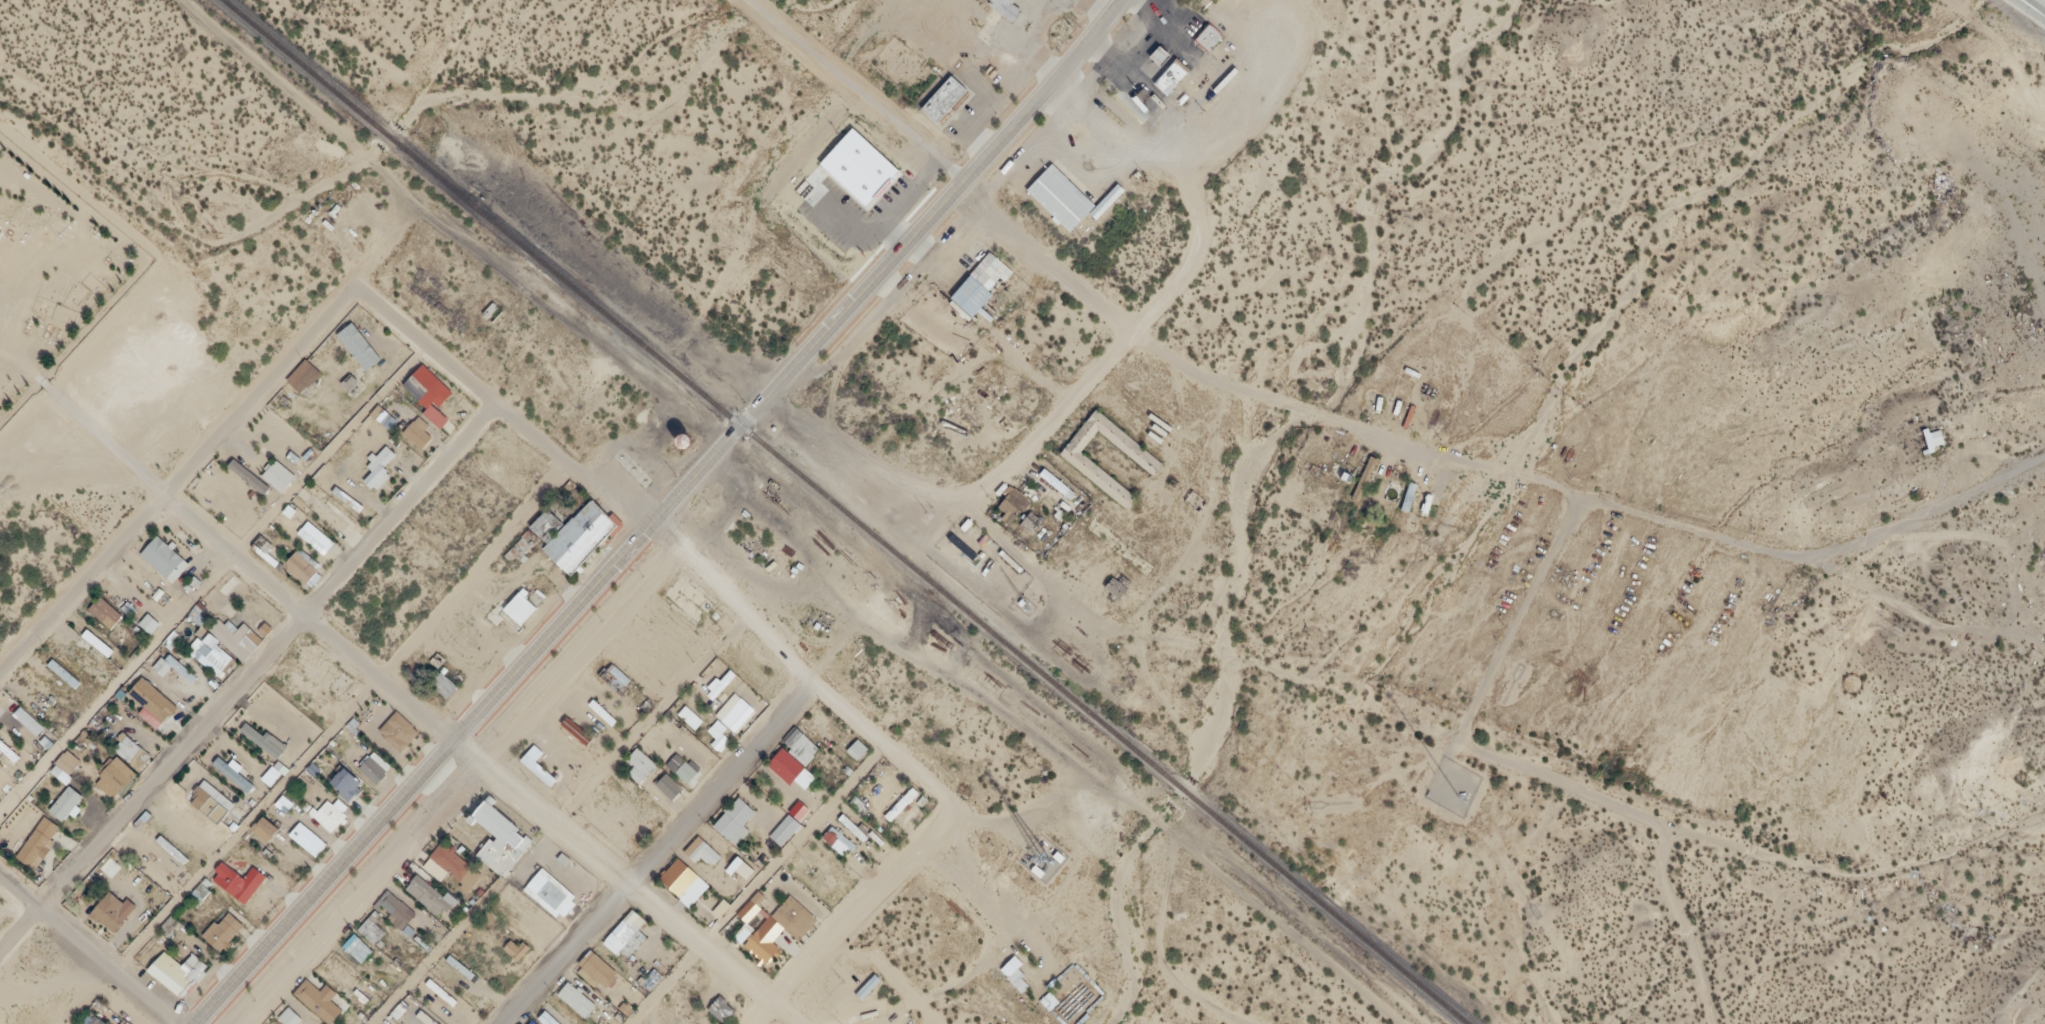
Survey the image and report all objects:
road: (2038, 4)
building: (998, 12)
road: (2026, 13)
building: (1208, 36)
building: (1203, 46)
building: (1153, 62)
gas station: (1153, 62)
road: (272, 77)
building: (1165, 86)
road: (854, 93)
building: (938, 106)
road: (1139, 139)
building: (853, 173)
building: (1055, 204)
road: (382, 249)
park: (52, 279)
building: (974, 291)
road: (540, 303)
building: (491, 307)
building: (360, 342)
road: (1091, 370)
road: (1243, 391)
building: (431, 407)
road: (498, 409)
building: (418, 431)
building: (1934, 436)
building: (379, 467)
building: (1069, 467)
building: (244, 473)
building: (278, 475)
road: (175, 480)
road: (941, 498)
building: (347, 499)
railway: (659, 512)
railway: (841, 513)
road: (658, 514)
building: (327, 516)
building: (315, 537)
building: (567, 541)
building: (264, 556)
building: (165, 558)
building: (302, 565)
road: (244, 567)
road: (212, 583)
building: (105, 610)
building: (514, 614)
building: (150, 621)
building: (98, 640)
building: (86, 654)
building: (212, 656)
building: (181, 666)
building: (65, 671)
road: (803, 678)
road: (246, 679)
building: (444, 683)
building: (153, 696)
building: (735, 713)
road: (343, 722)
building: (22, 725)
road: (1018, 725)
building: (399, 730)
building: (263, 737)
building: (803, 747)
building: (858, 747)
building: (375, 765)
building: (234, 773)
building: (348, 779)
building: (669, 785)
road: (465, 792)
building: (214, 796)
building: (66, 801)
building: (736, 820)
road: (1037, 820)
road: (560, 824)
road: (1558, 827)
building: (833, 832)
building: (39, 839)
building: (492, 844)
building: (701, 851)
road: (653, 853)
building: (745, 868)
building: (238, 879)
road: (627, 881)
building: (683, 881)
road: (758, 886)
road: (980, 886)
building: (429, 893)
building: (544, 901)
building: (112, 909)
building: (780, 925)
road: (843, 926)
building: (224, 928)
building: (620, 936)
building: (359, 942)
road: (87, 954)
building: (461, 967)
building: (177, 971)
building: (442, 991)
building: (319, 998)
building: (721, 1008)
building: (94, 1021)
building: (533, 1022)
building: (127, 1023)

